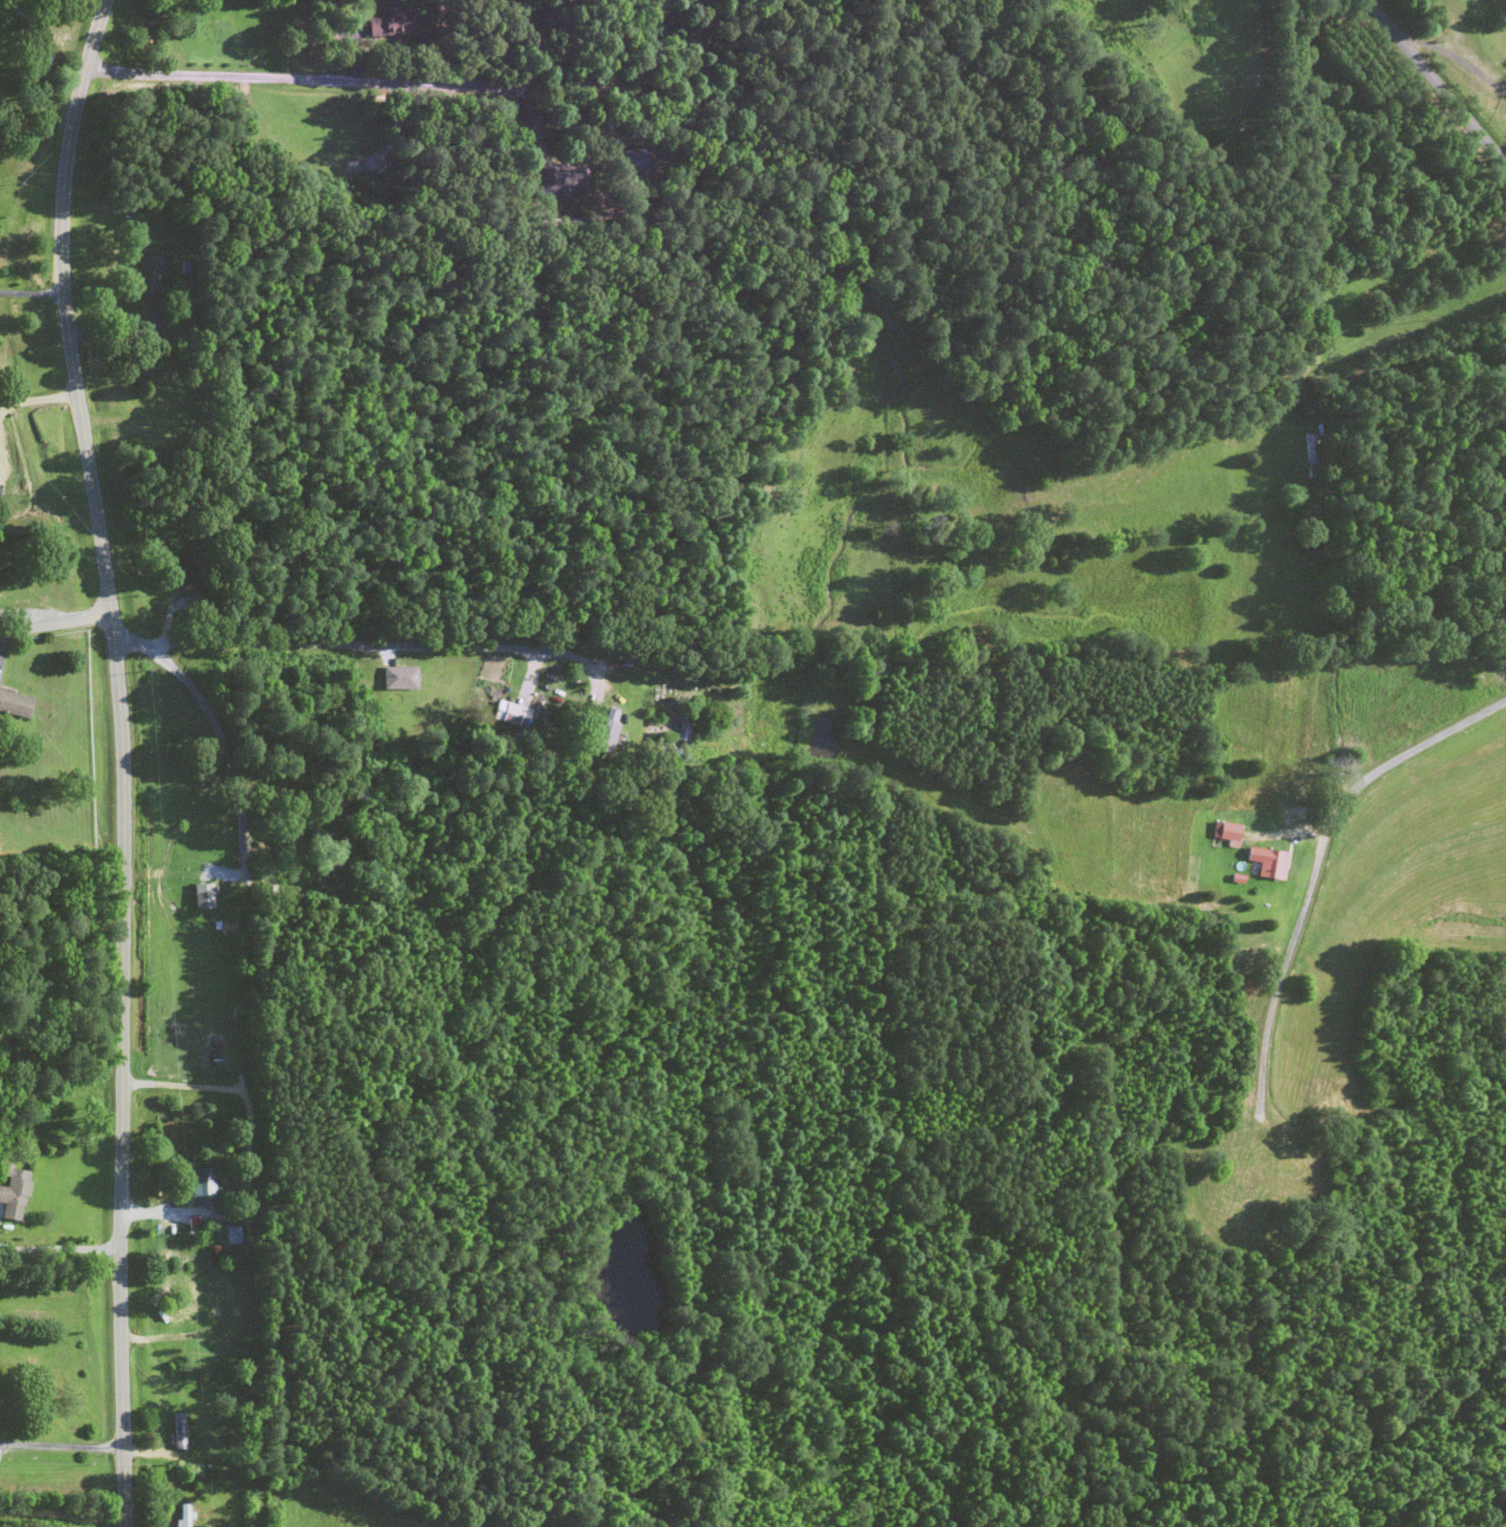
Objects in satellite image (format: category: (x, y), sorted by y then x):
building: (392, 28)
road: (1449, 83)
road: (667, 126)
building: (343, 152)
building: (635, 158)
road: (244, 172)
building: (570, 176)
building: (152, 274)
building: (149, 366)
building: (1312, 457)
road: (128, 480)
road: (96, 574)
building: (192, 575)
building: (401, 679)
building: (16, 705)
building: (520, 719)
building: (609, 737)
road: (267, 799)
building: (1227, 831)
building: (1269, 862)
building: (205, 896)
road: (74, 956)
building: (216, 1050)
road: (1430, 1089)
building: (1254, 1180)
building: (204, 1188)
building: (15, 1194)
building: (234, 1236)
building: (179, 1431)
road: (388, 1508)
building: (184, 1516)

